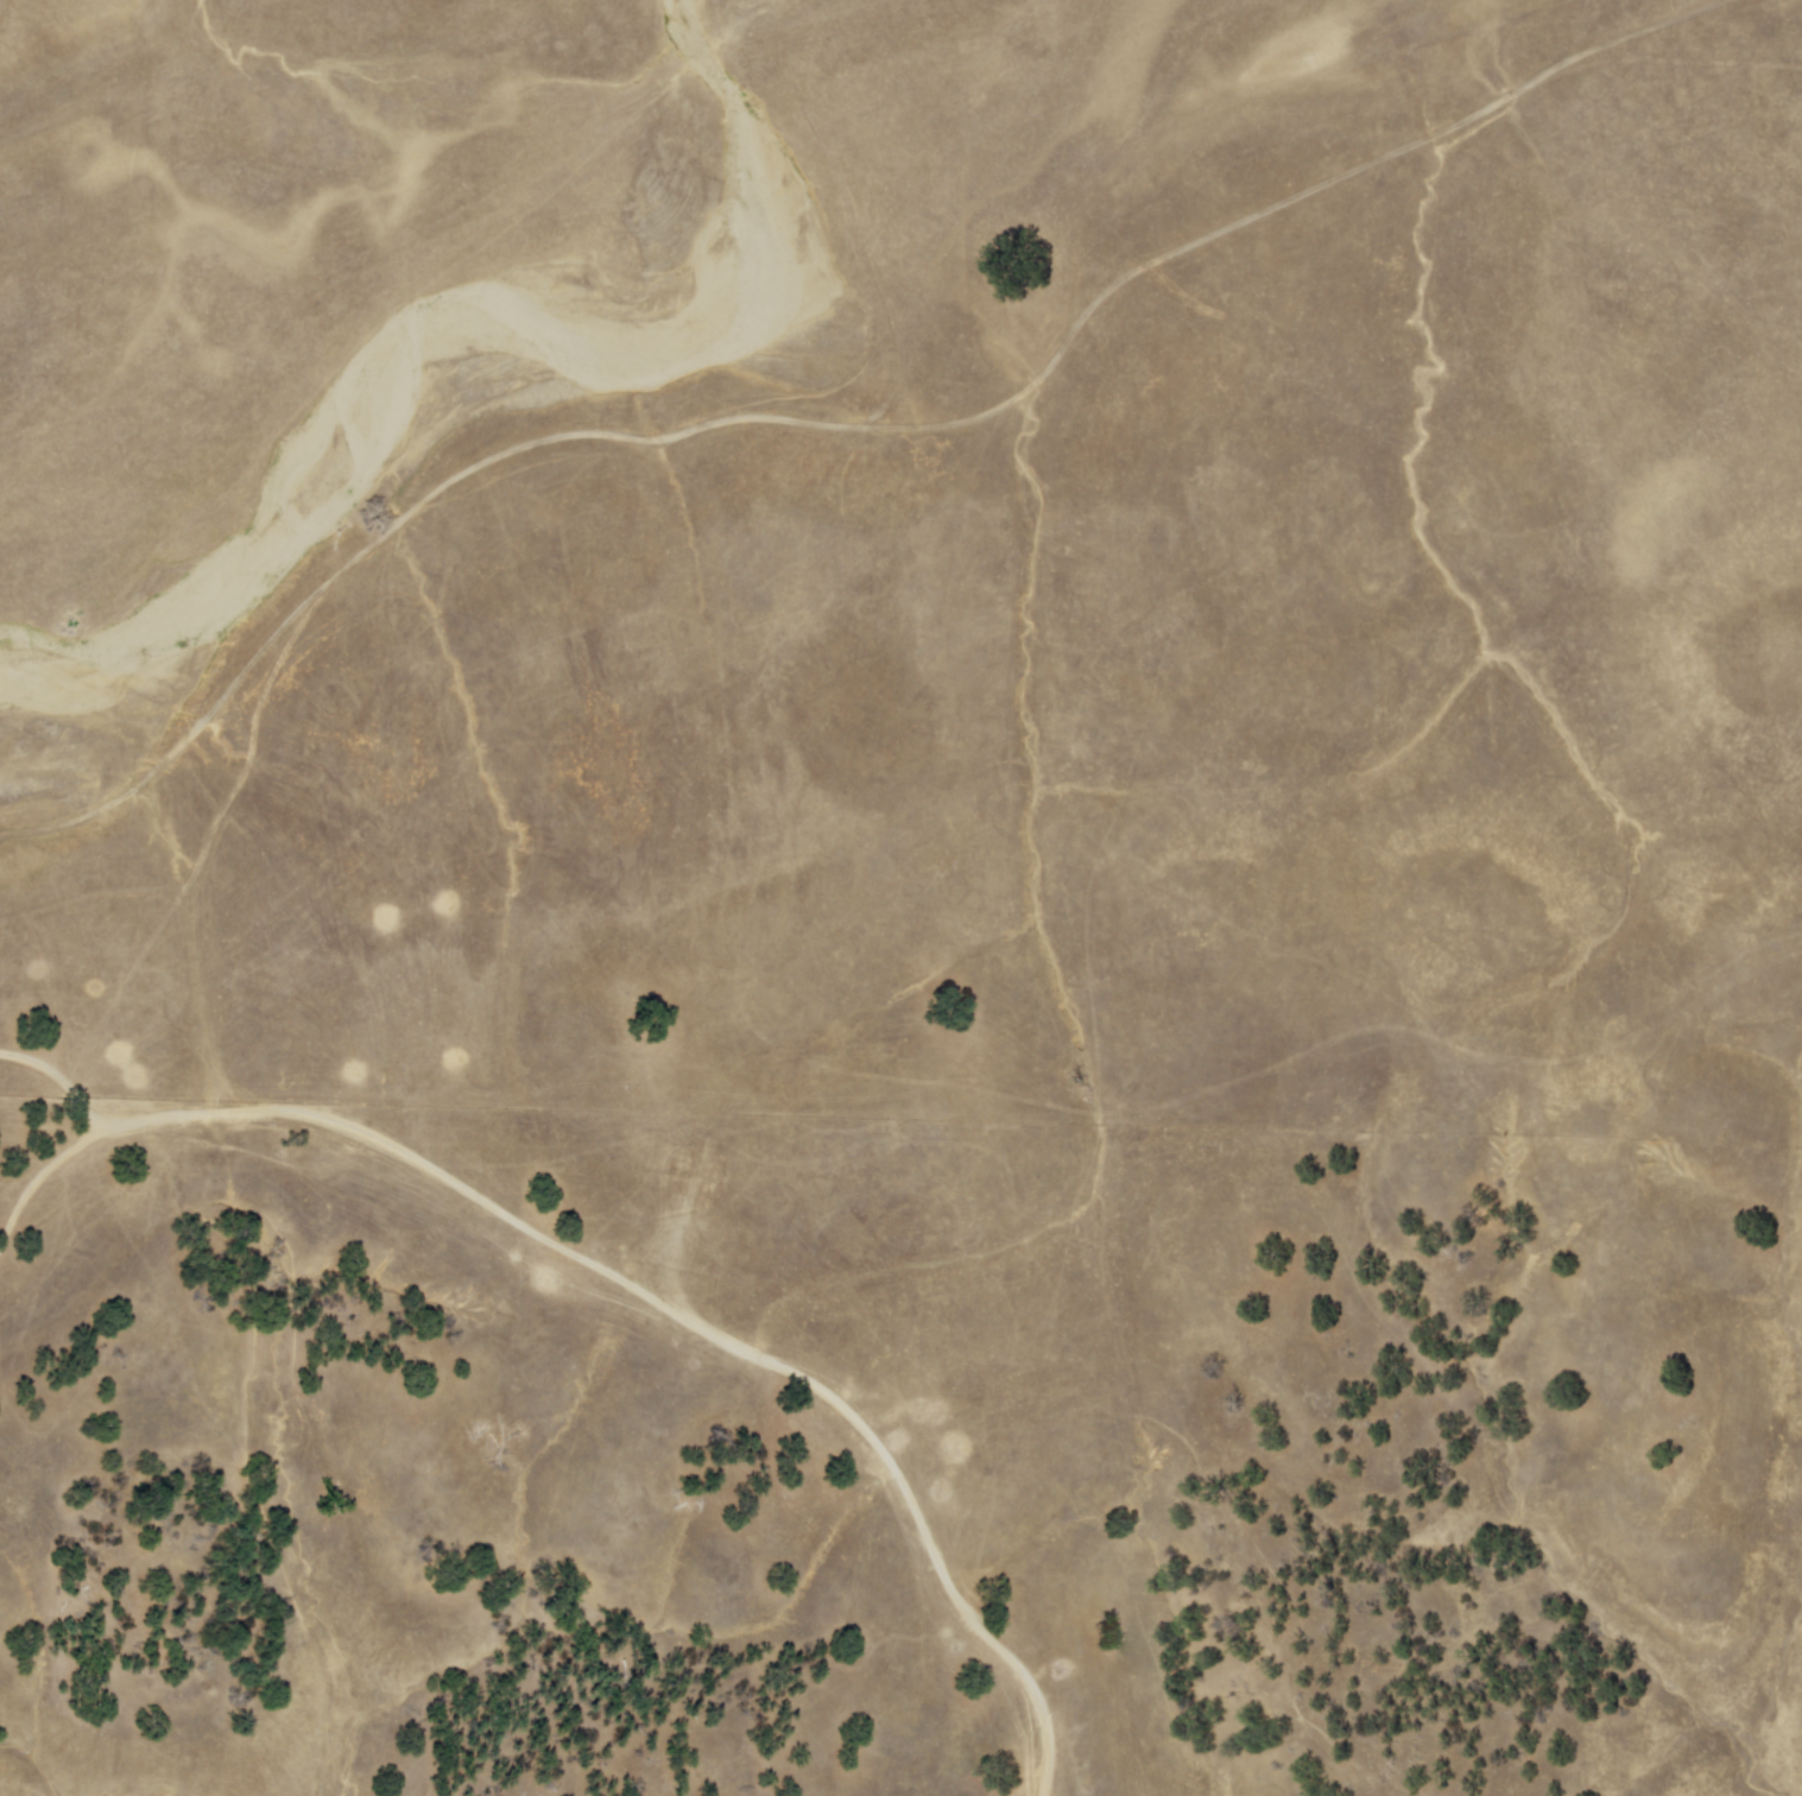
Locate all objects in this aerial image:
river: (455, 331)
road: (56, 1076)
road: (39, 1171)
road: (682, 1317)

